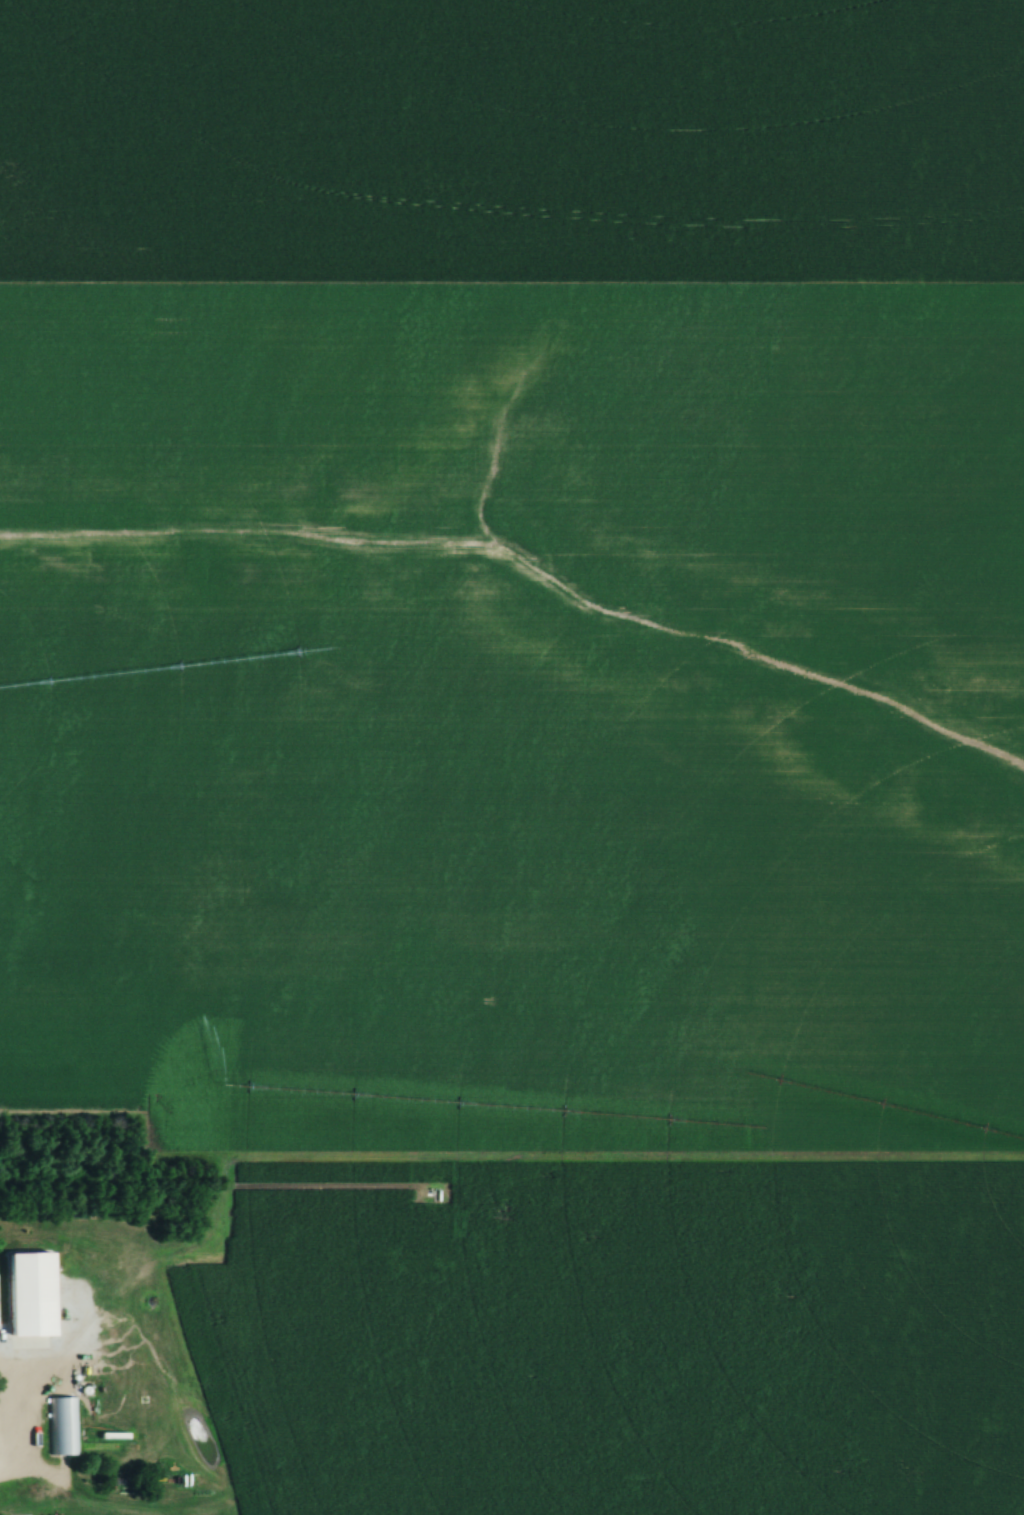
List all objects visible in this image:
building: (21, 1359)
building: (60, 1427)

